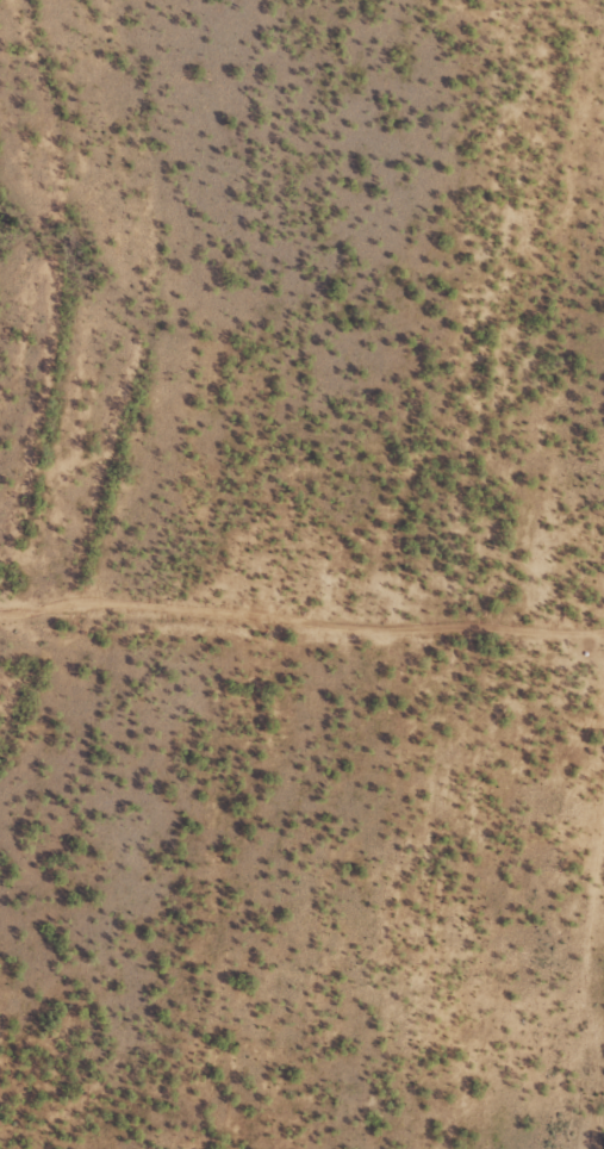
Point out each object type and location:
road: (301, 716)

